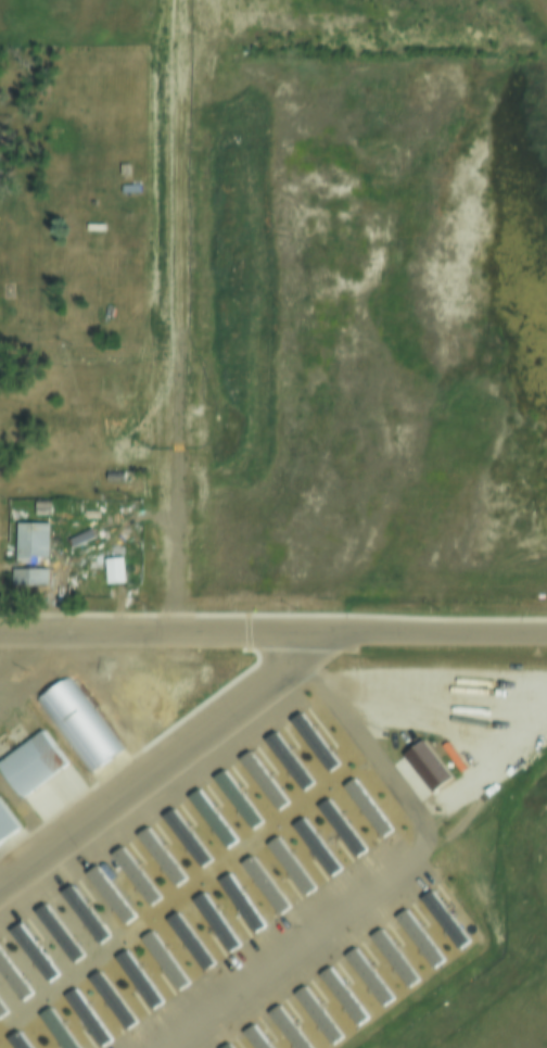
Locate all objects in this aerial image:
building: (123, 168)
building: (128, 187)
building: (92, 225)
building: (126, 377)
building: (28, 552)
building: (112, 570)
road: (272, 632)
building: (77, 722)
building: (309, 741)
building: (283, 760)
road: (166, 761)
building: (30, 763)
building: (258, 780)
building: (232, 798)
building: (362, 807)
road: (28, 812)
building: (207, 818)
building: (4, 826)
building: (335, 826)
building: (181, 837)
building: (310, 846)
building: (157, 856)
building: (284, 866)
building: (131, 874)
building: (259, 885)
building: (105, 895)
building: (237, 904)
building: (140, 910)
building: (80, 914)
building: (441, 919)
building: (211, 922)
building: (54, 934)
building: (416, 937)
building: (186, 942)
building: (29, 954)
building: (389, 958)
building: (160, 962)
building: (365, 975)
building: (133, 981)
building: (11, 983)
building: (339, 996)
building: (10, 1000)
building: (107, 1000)
building: (1, 1010)
building: (314, 1014)
building: (84, 1019)
building: (283, 1027)
building: (52, 1030)
building: (252, 1037)
building: (12, 1041)
building: (224, 1046)

